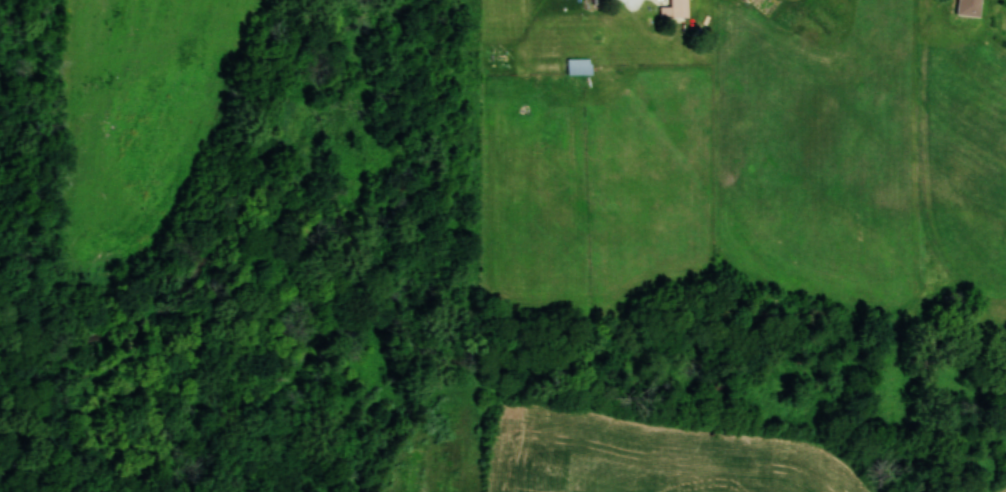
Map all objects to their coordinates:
building: (970, 7)
building: (676, 8)
building: (579, 66)

